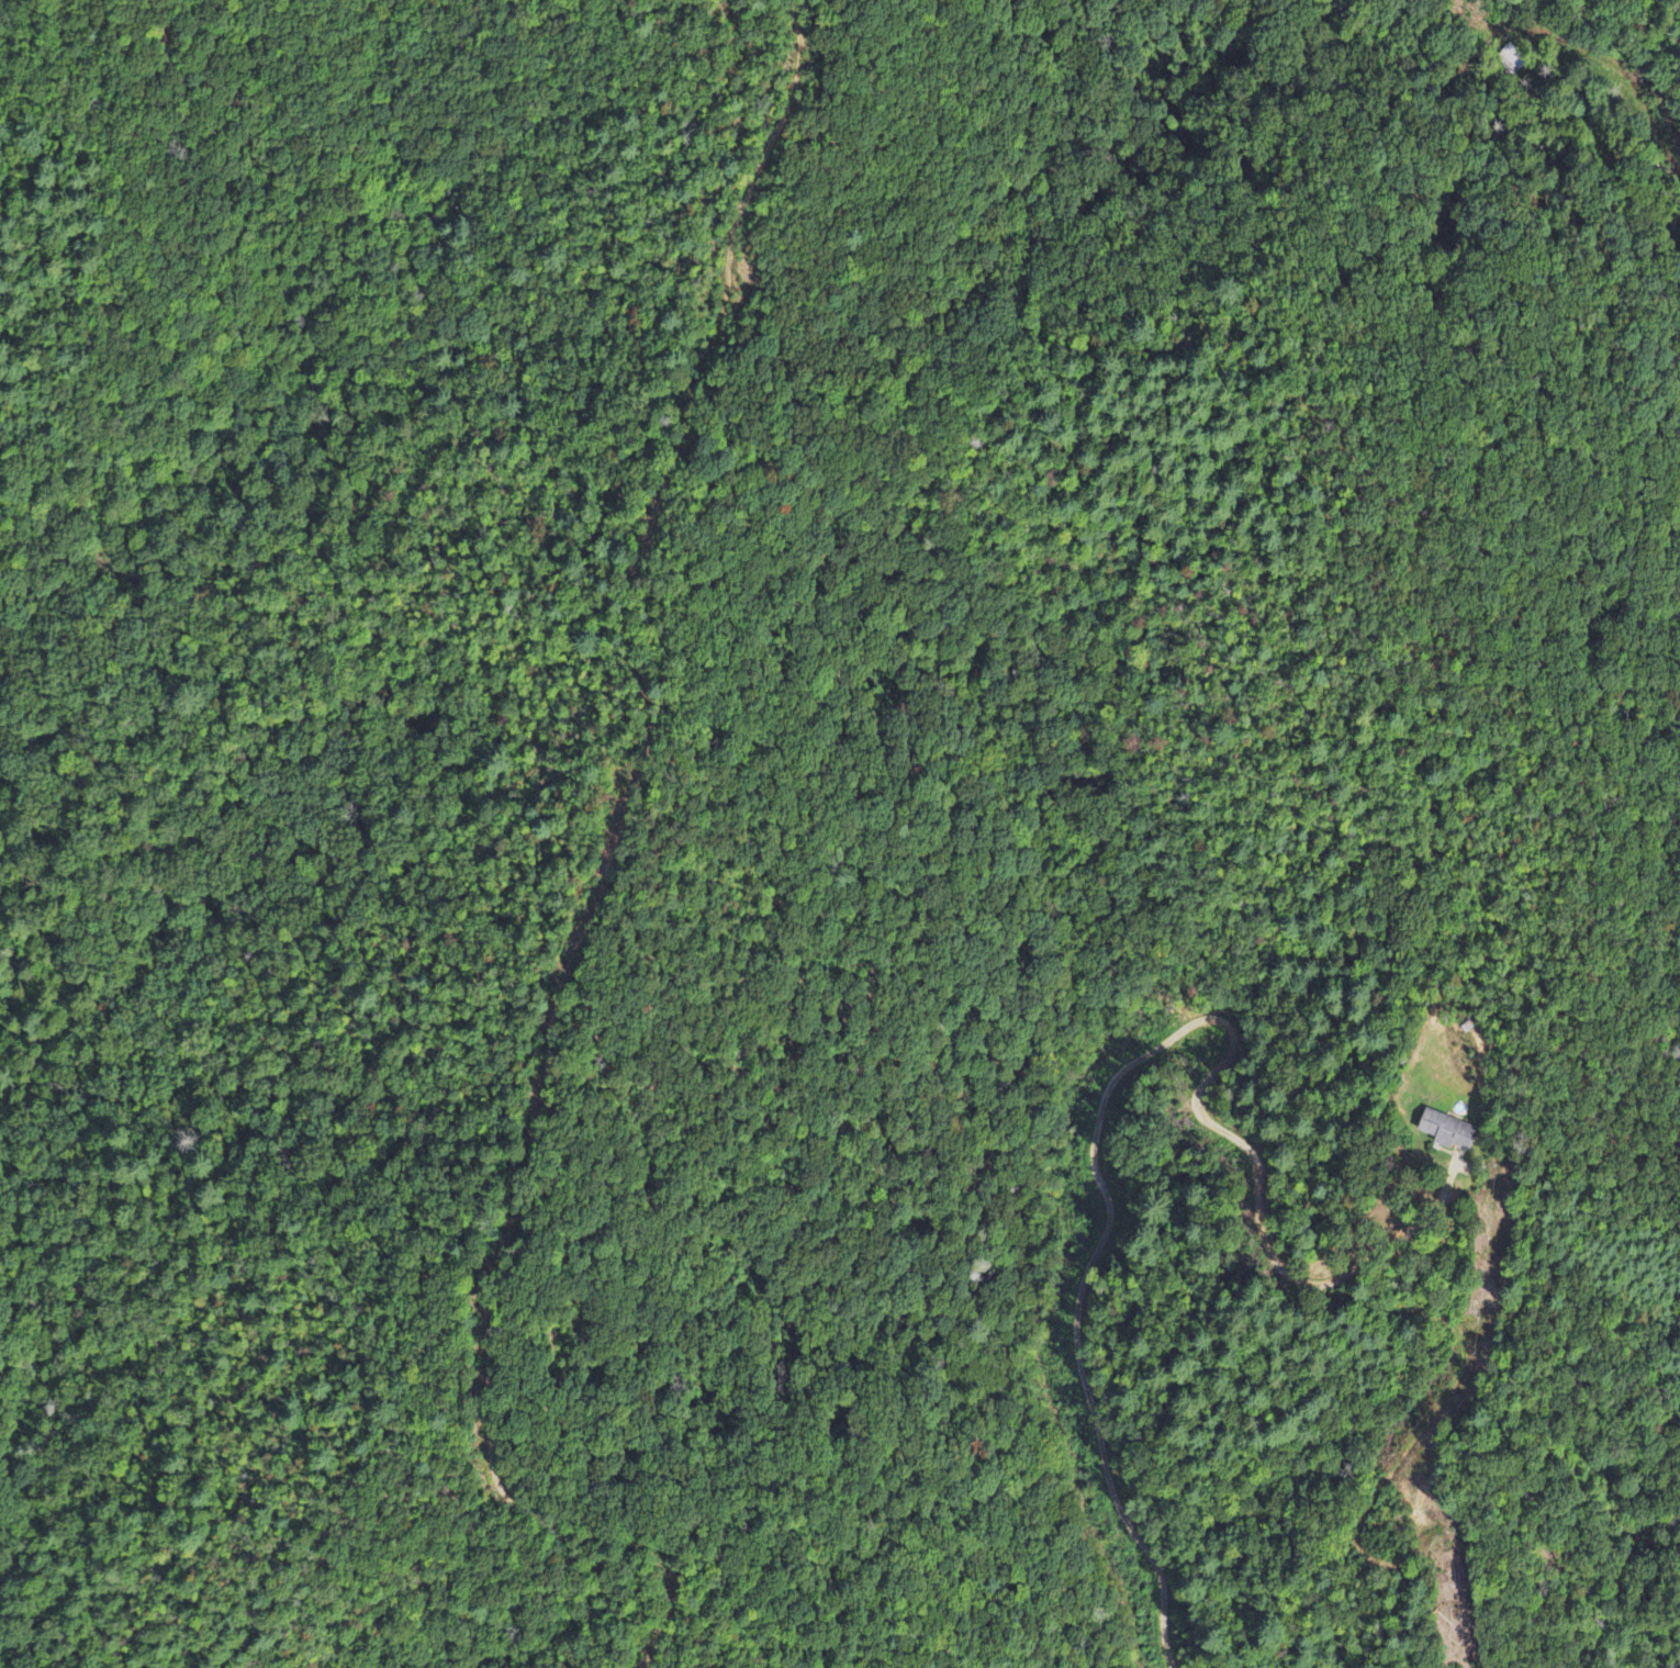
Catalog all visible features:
building: (1446, 1131)

